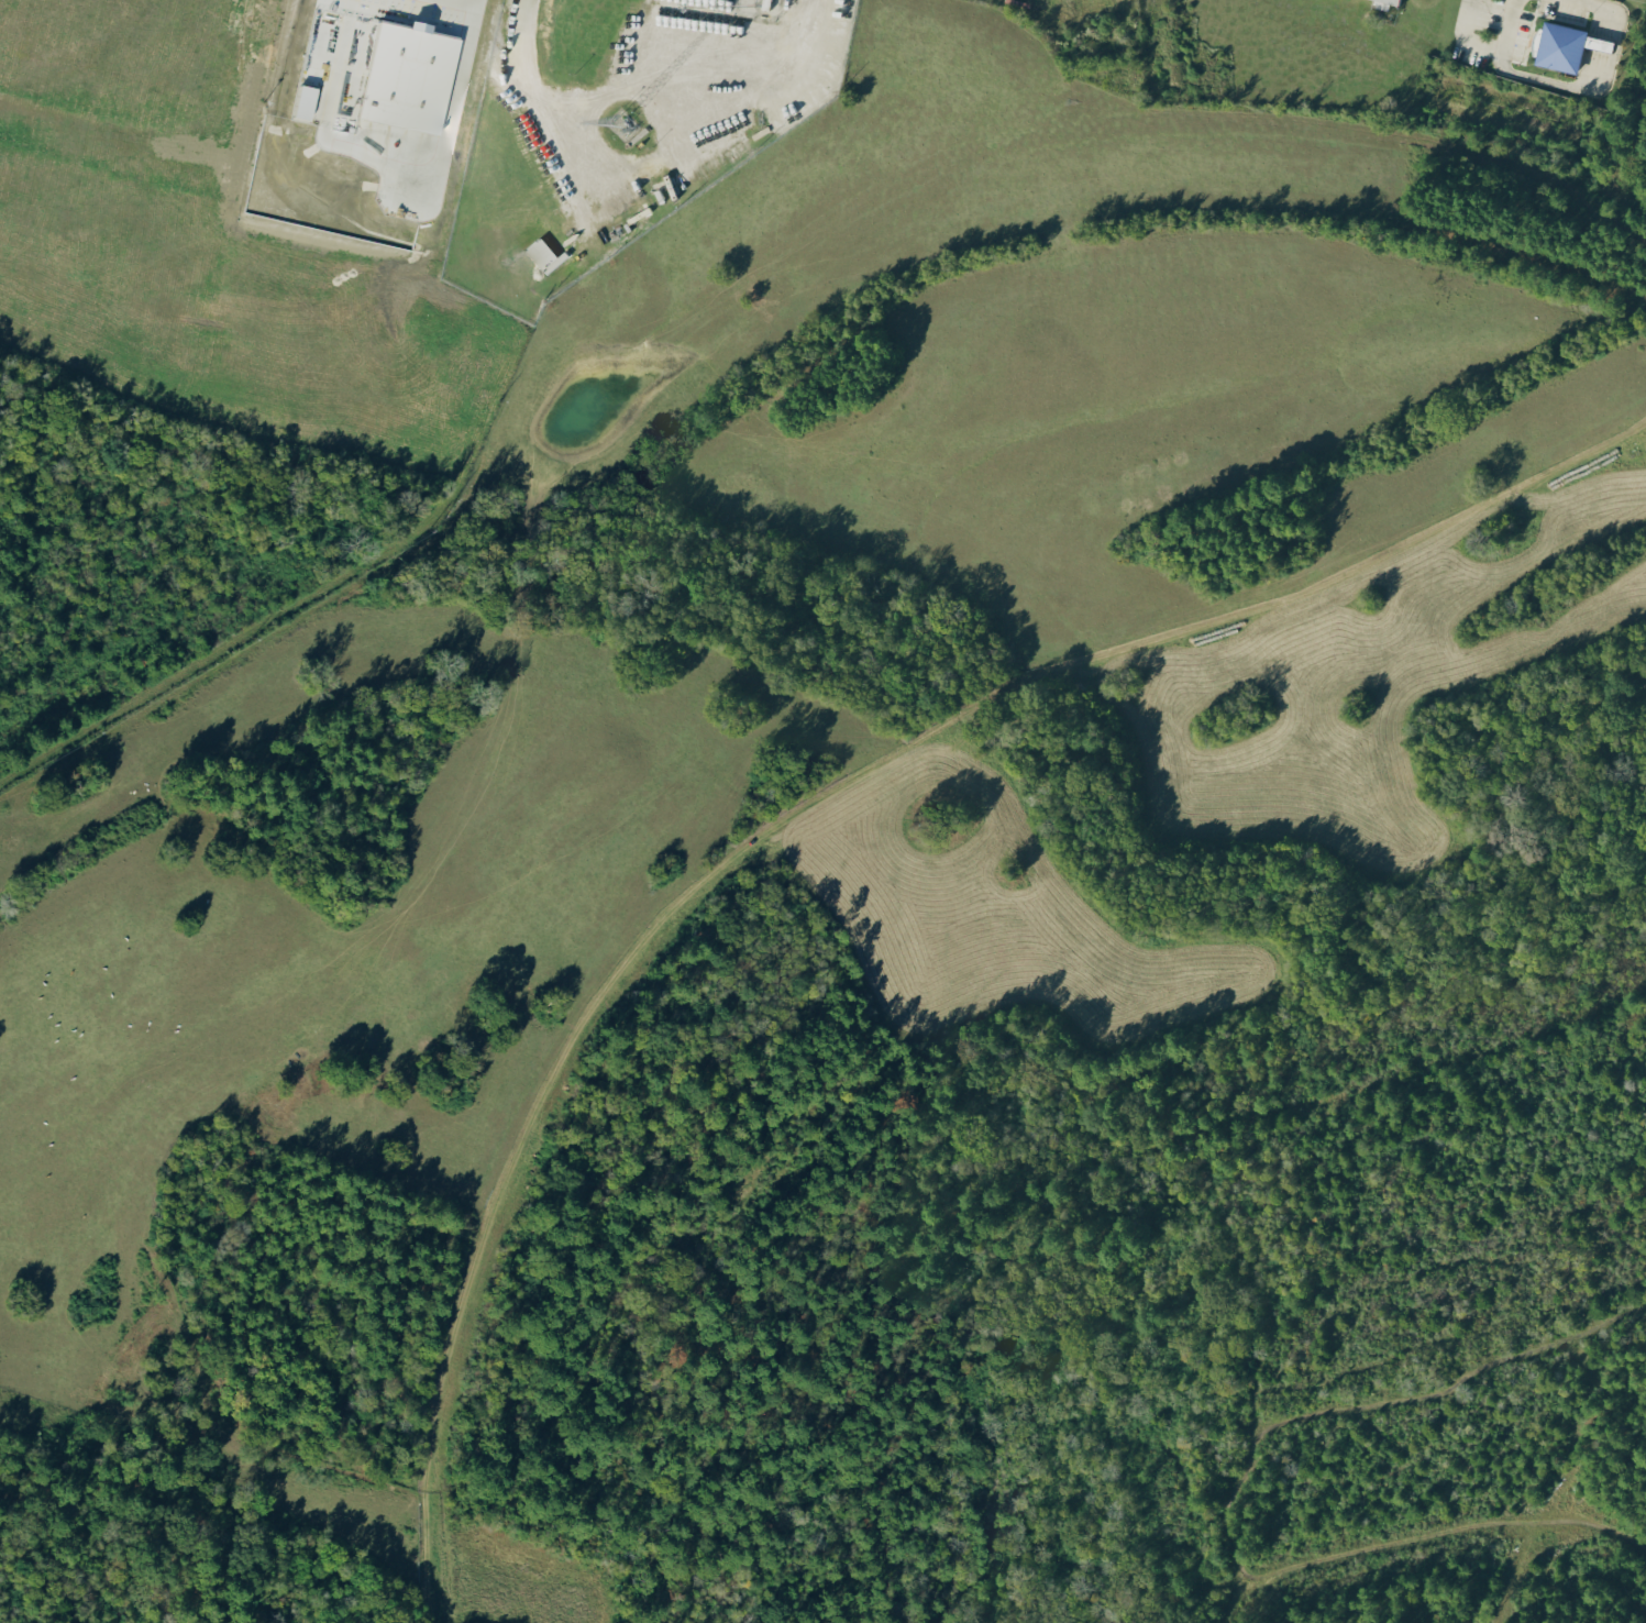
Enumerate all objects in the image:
building: (1384, 3)
road: (1504, 29)
building: (1562, 46)
road: (1561, 82)
road: (641, 98)
building: (541, 254)

